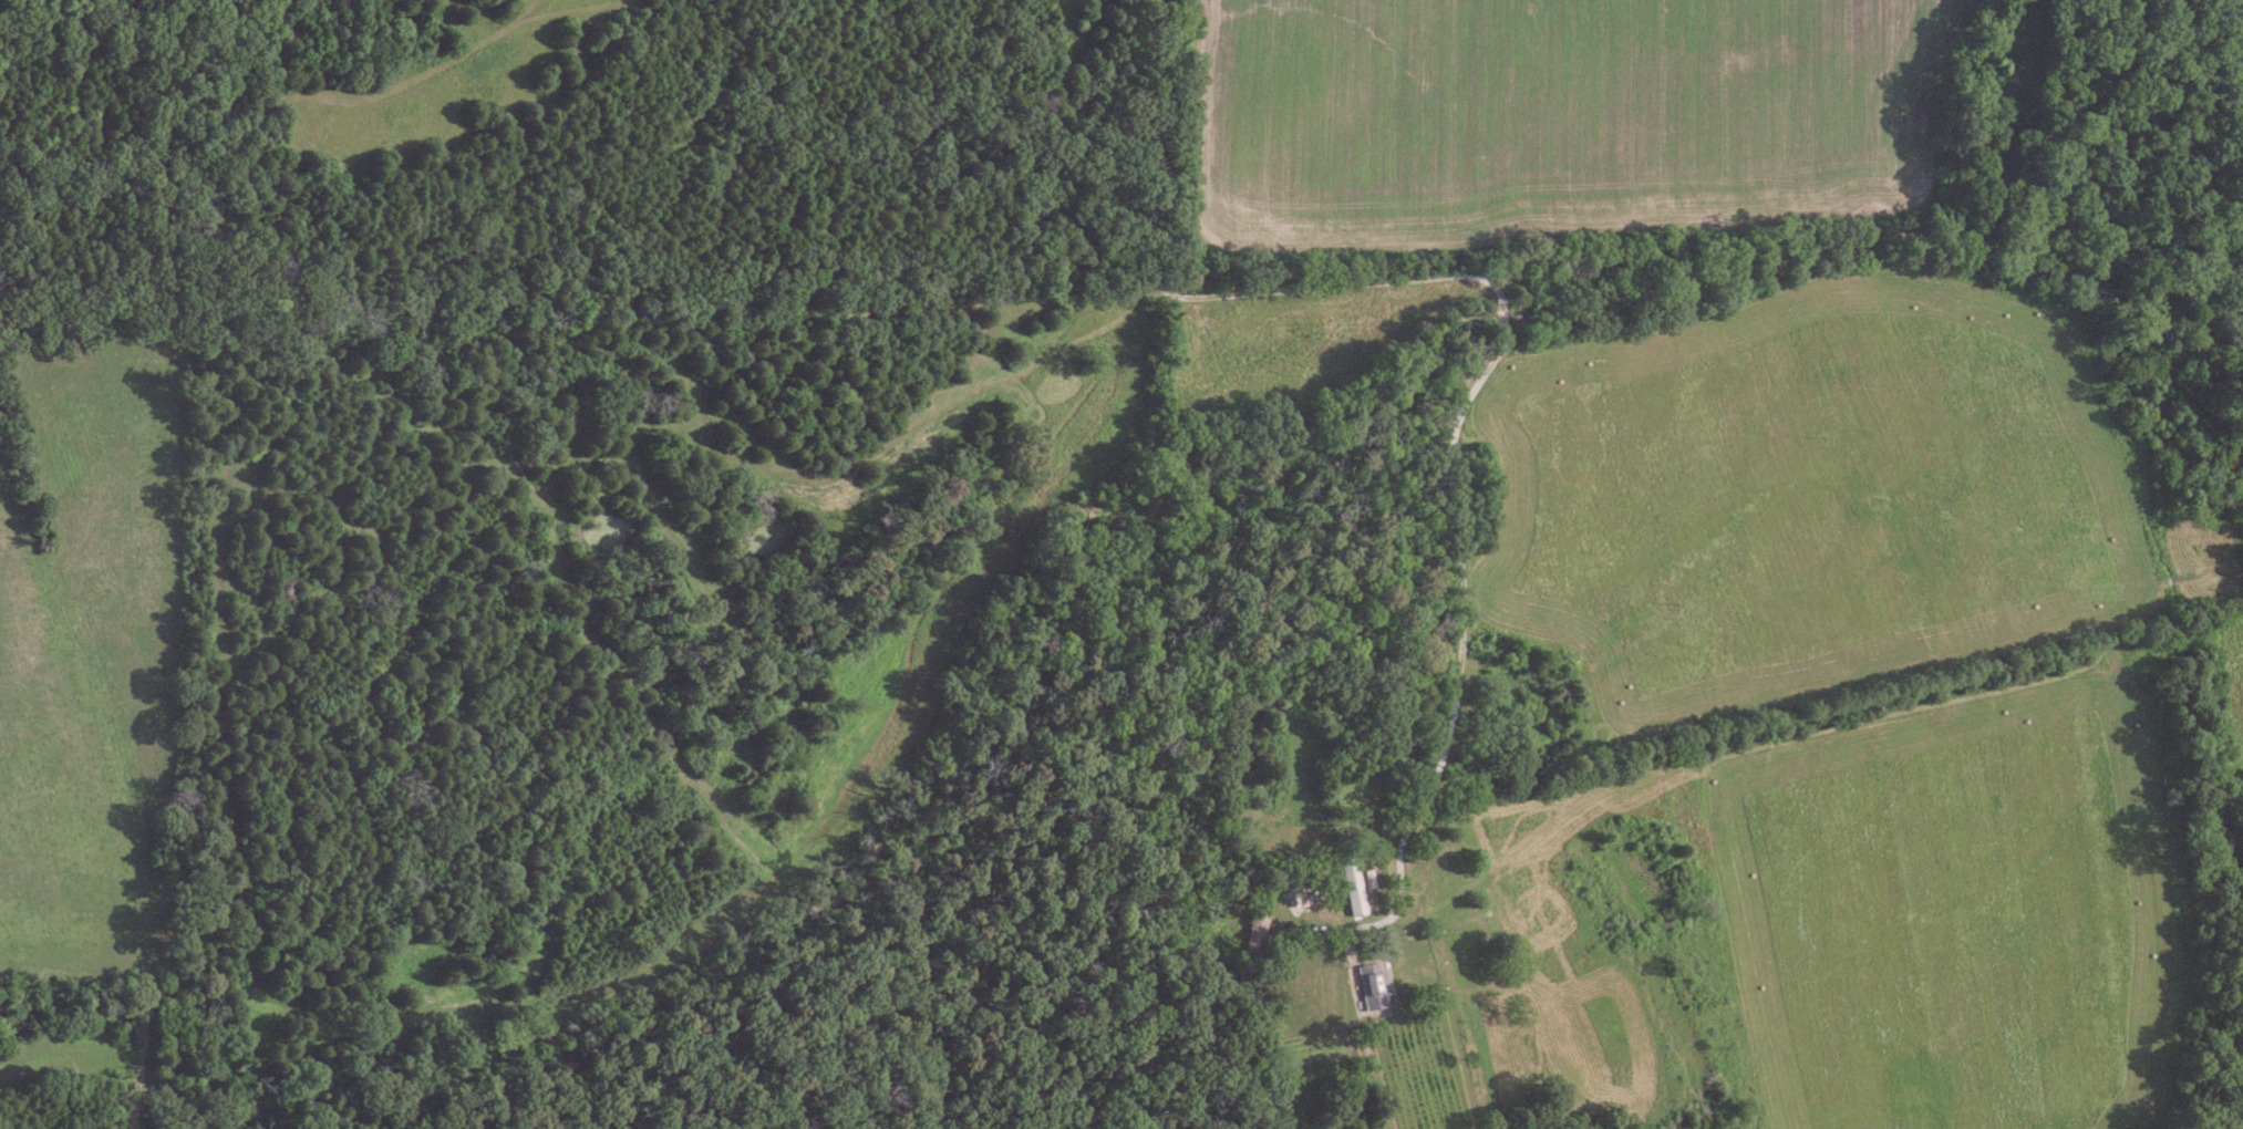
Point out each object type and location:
road: (1499, 333)
building: (1347, 888)
building: (1371, 988)

